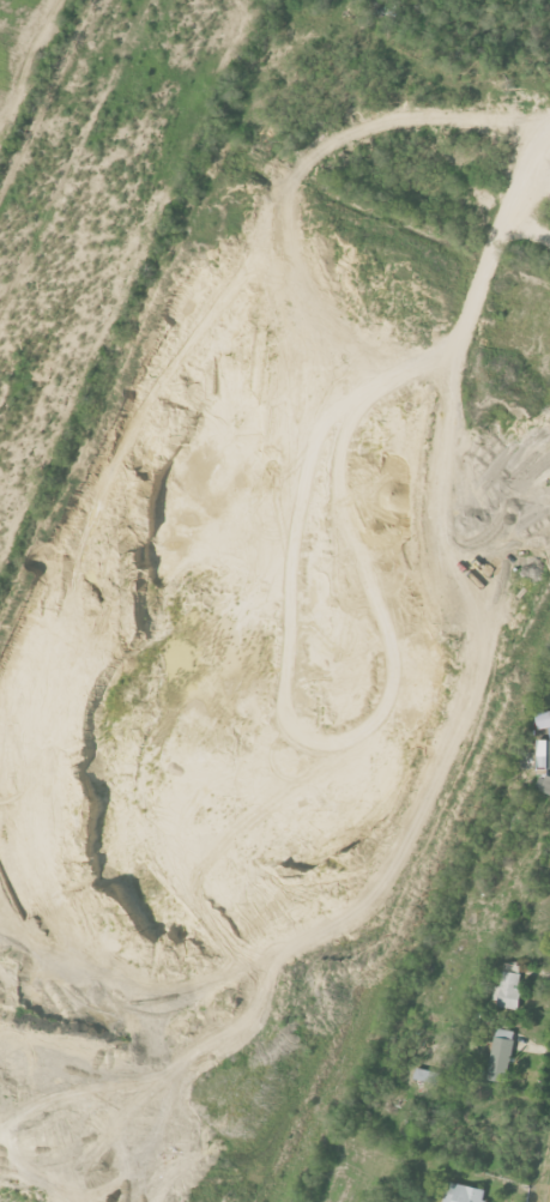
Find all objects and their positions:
airport runway: (77, 171)
building: (544, 719)
building: (544, 753)
building: (544, 784)
building: (510, 985)
building: (501, 1056)
building: (464, 1194)

